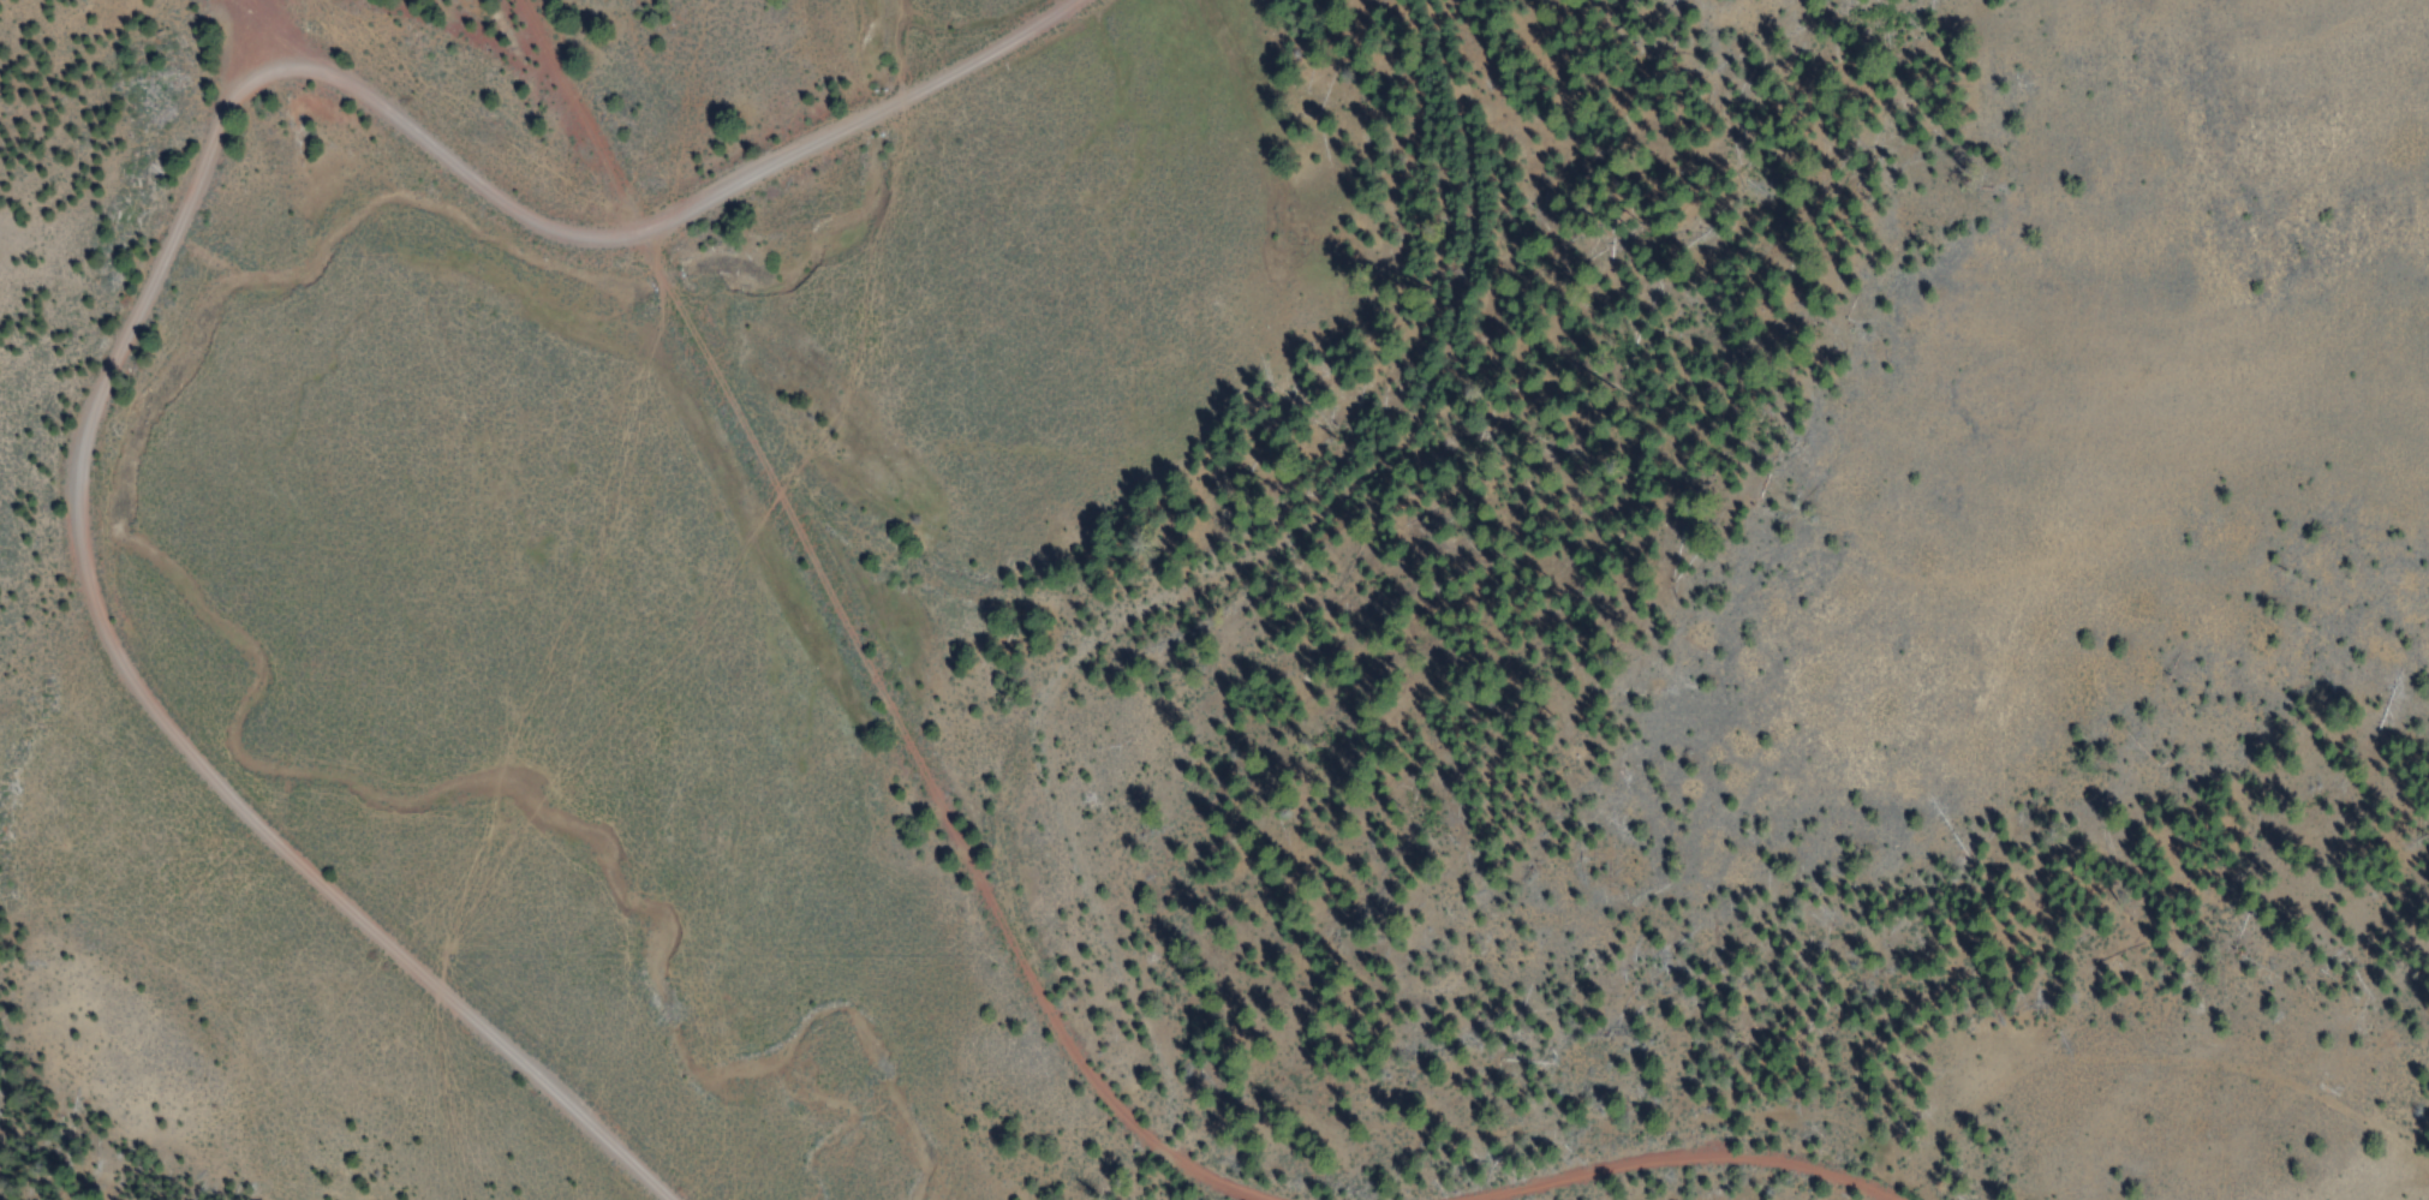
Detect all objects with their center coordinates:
road: (279, 30)
road: (144, 293)

